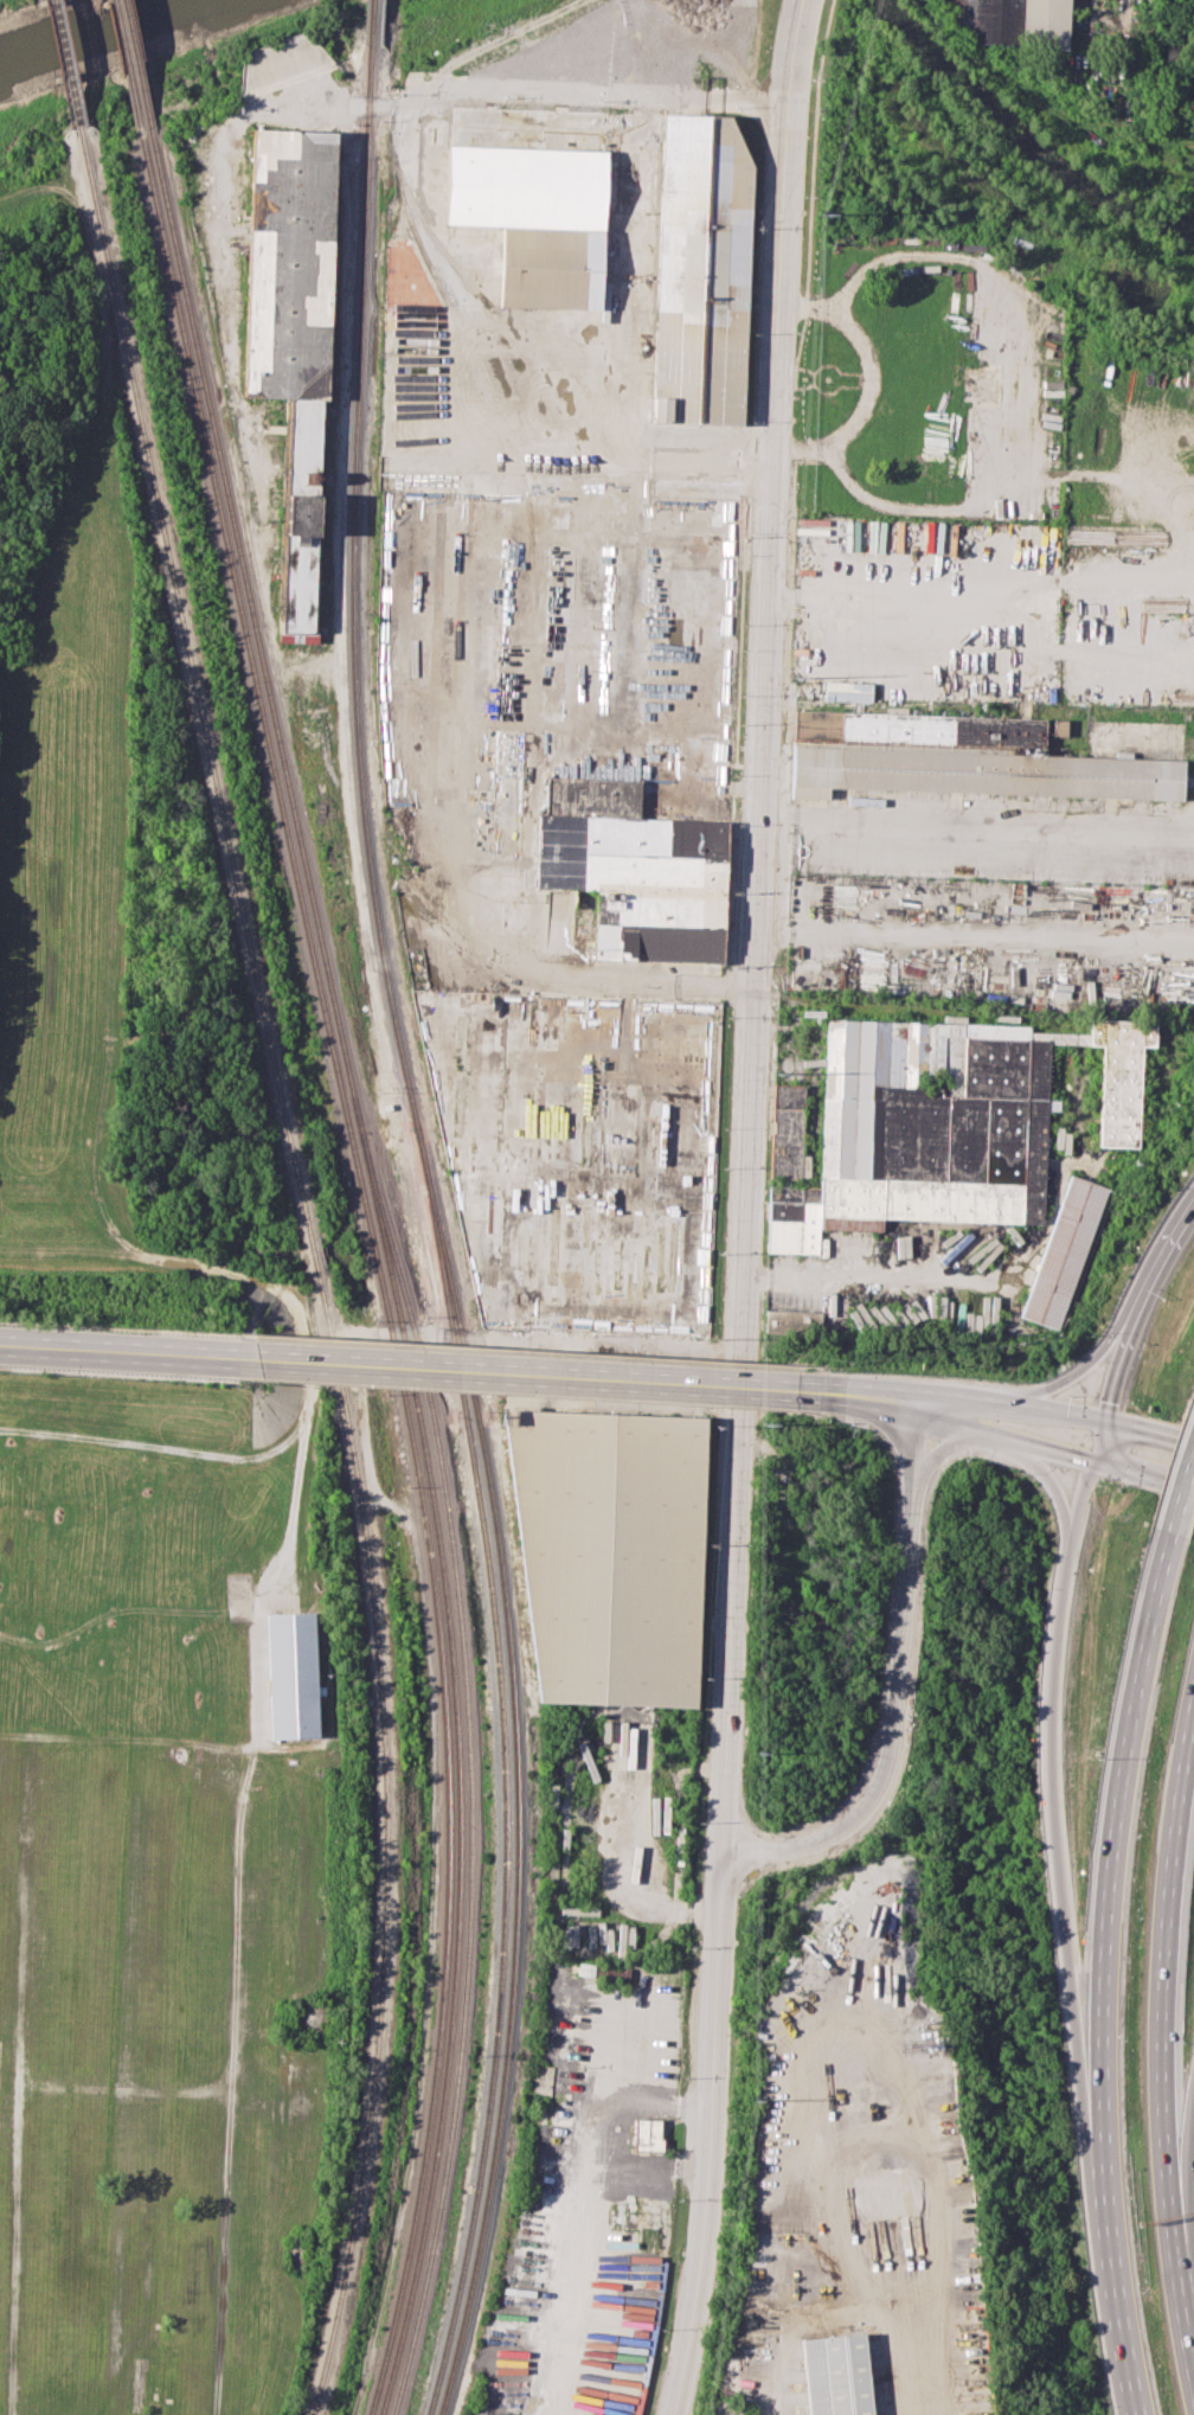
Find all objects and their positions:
road: (1115, 17)
railway: (371, 20)
building: (1010, 20)
river: (104, 36)
railway: (65, 63)
railway: (137, 66)
railway: (127, 68)
road: (559, 89)
power tower: (827, 212)
railway: (455, 322)
railway: (506, 327)
building: (291, 341)
road: (1026, 359)
building: (421, 367)
road: (868, 380)
road: (805, 447)
building: (583, 534)
power tower: (797, 677)
building: (959, 757)
road: (616, 981)
power tower: (777, 1072)
building: (933, 1122)
building: (578, 1152)
road: (746, 1207)
road: (1185, 1215)
railway: (437, 1230)
building: (1065, 1250)
railway: (313, 1264)
railway: (389, 1268)
railway: (378, 1269)
road: (1144, 1285)
building: (794, 1321)
street lamp: (162, 1327)
street lamp: (1098, 1332)
street lamp: (387, 1346)
road: (124, 1352)
street lamp: (616, 1359)
street lamp: (840, 1369)
street lamp: (46, 1373)
road: (533, 1375)
road: (1065, 1377)
road: (1110, 1379)
street lamp: (272, 1381)
street lamp: (497, 1392)
road: (868, 1398)
road: (1012, 1403)
street lamp: (723, 1405)
power tower: (763, 1416)
traffic signals: (1104, 1416)
road: (1149, 1429)
road: (1003, 1436)
road: (944, 1447)
traffic signals: (1092, 1459)
street lamp: (1020, 1473)
road: (1143, 1474)
street lamp: (1097, 1485)
road: (1053, 1486)
road: (1180, 1492)
building: (606, 1554)
building: (293, 1677)
road: (895, 1690)
power tower: (757, 1753)
road: (1047, 1760)
railway: (503, 1787)
railway: (469, 1795)
road: (1110, 1819)
road: (631, 1888)
road: (1160, 1946)
power tower: (751, 2099)
road: (597, 2131)
building: (646, 2133)
road: (1182, 2145)
road: (1106, 2262)
road: (1182, 2285)
road: (854, 2307)
building: (835, 2372)

